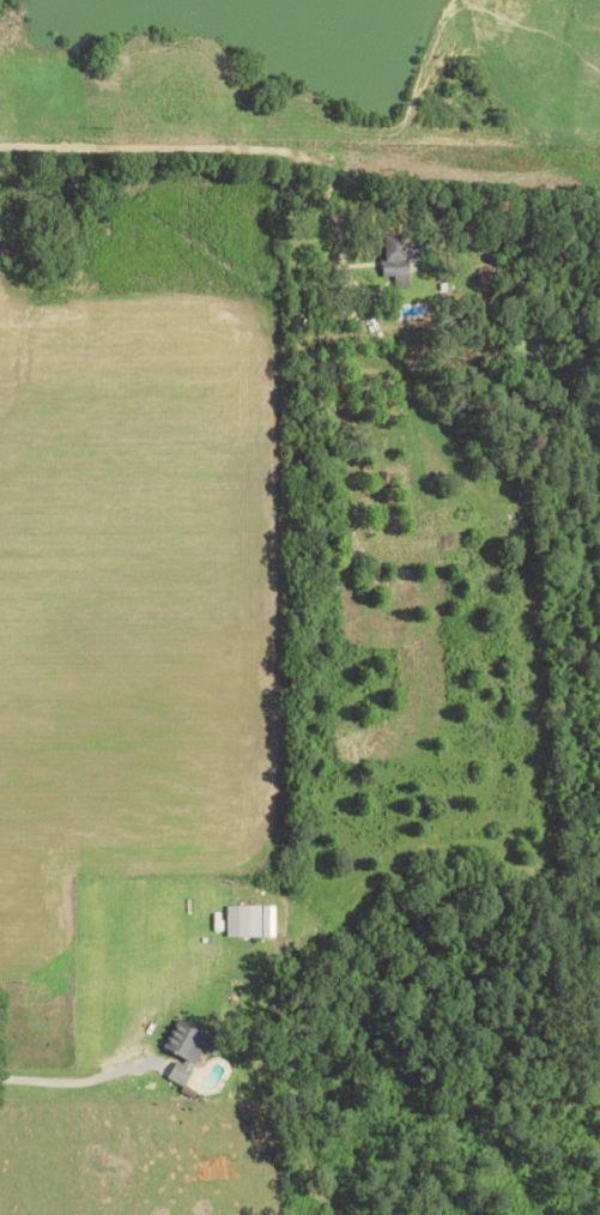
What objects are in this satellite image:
road: (210, 147)
building: (400, 256)
building: (246, 920)
building: (272, 920)
building: (189, 1048)
road: (75, 1081)

